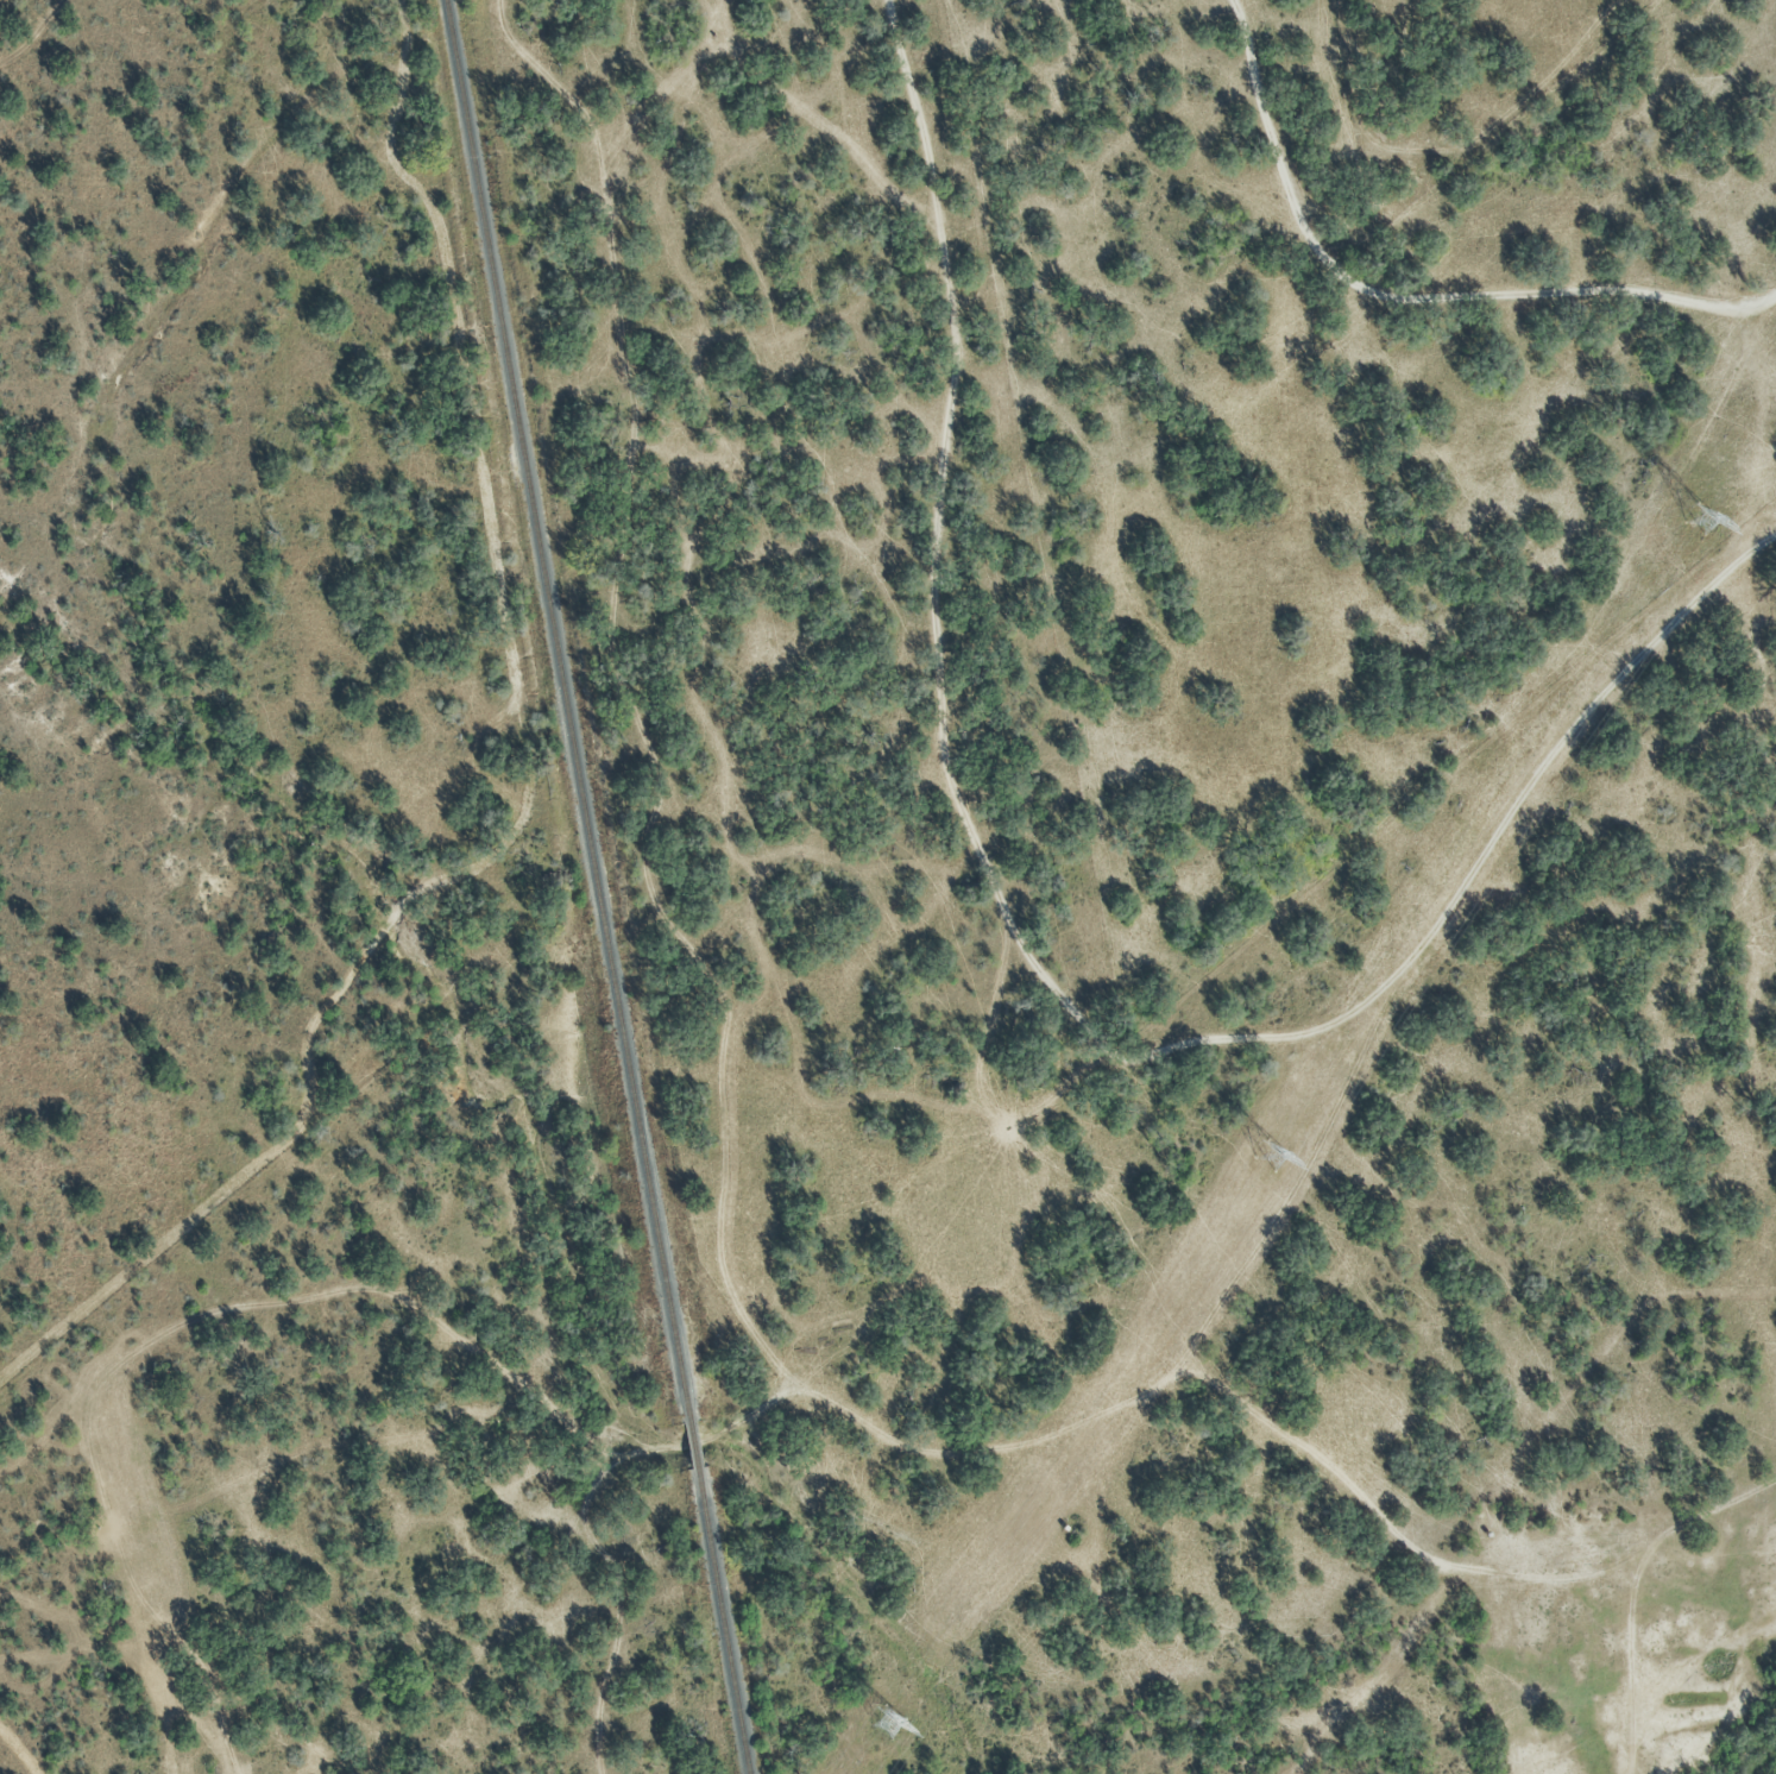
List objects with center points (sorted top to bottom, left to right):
road: (1404, 297)
road: (1774, 301)
power tower: (1696, 521)
railway: (596, 886)
road: (1044, 957)
power tower: (1267, 1157)
power tower: (883, 1726)

